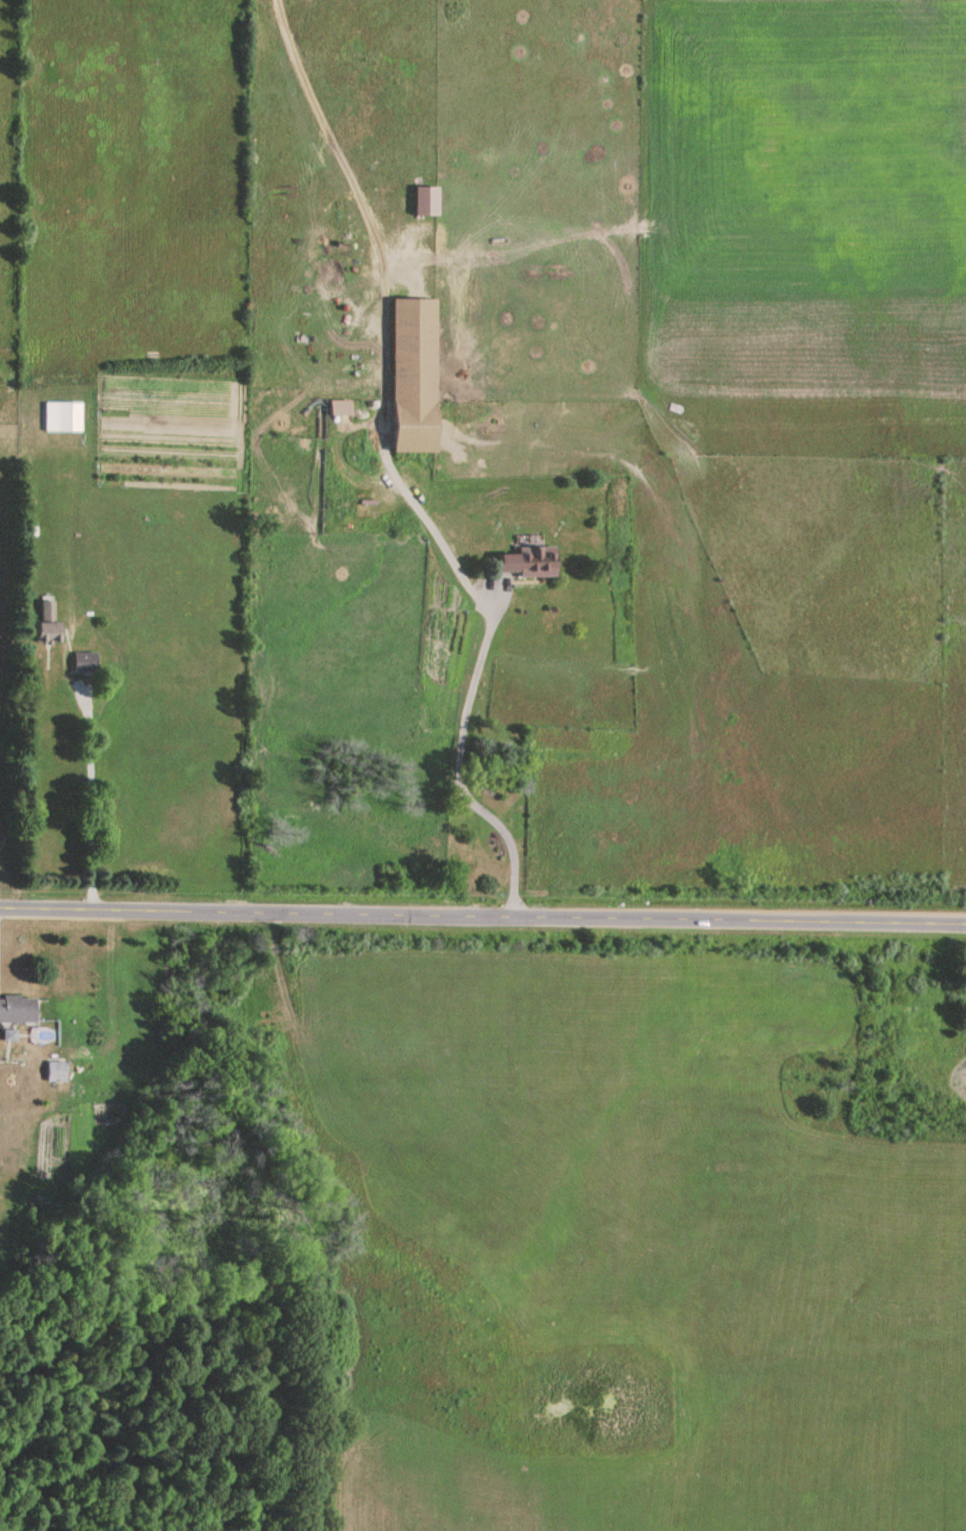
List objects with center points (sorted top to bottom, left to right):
building: (426, 202)
building: (414, 377)
building: (63, 420)
building: (529, 564)
building: (48, 627)
building: (85, 666)
road: (468, 691)
road: (90, 803)
road: (482, 922)
building: (17, 1012)
building: (56, 1074)

